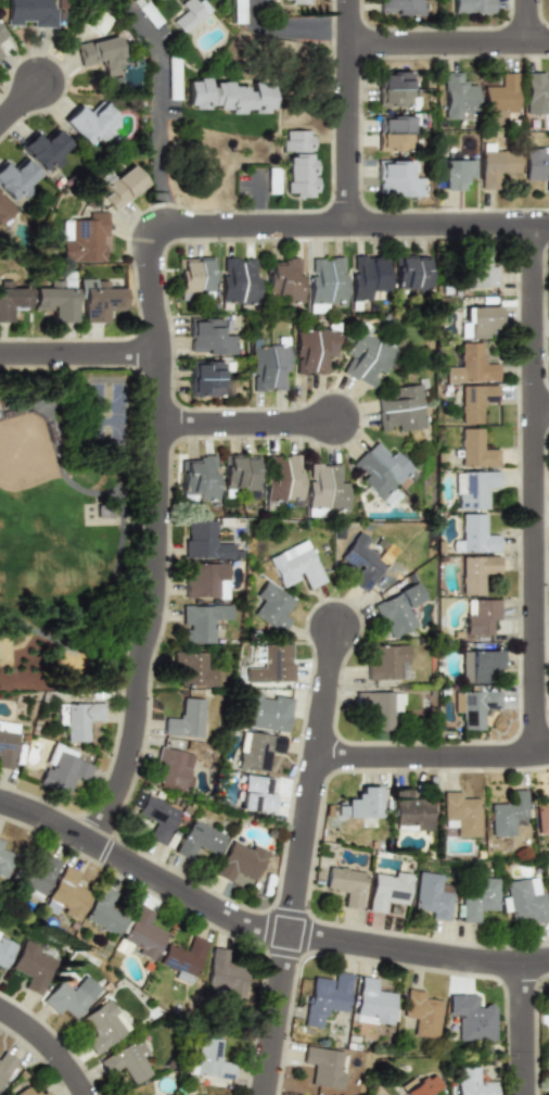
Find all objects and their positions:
building: (299, 2)
building: (470, 7)
building: (398, 8)
building: (239, 11)
building: (31, 13)
building: (150, 14)
building: (190, 14)
road: (522, 21)
building: (97, 22)
road: (286, 26)
building: (1, 34)
road: (446, 41)
building: (0, 50)
building: (0, 53)
building: (100, 54)
building: (173, 79)
building: (393, 89)
building: (534, 91)
building: (499, 93)
building: (232, 95)
building: (456, 95)
road: (18, 98)
road: (159, 109)
road: (345, 111)
building: (90, 122)
building: (394, 133)
building: (43, 149)
building: (298, 155)
building: (495, 163)
building: (536, 164)
building: (456, 173)
building: (15, 178)
building: (398, 178)
building: (272, 180)
building: (122, 187)
building: (3, 209)
road: (447, 223)
building: (86, 239)
building: (481, 270)
building: (411, 273)
building: (195, 275)
building: (366, 277)
building: (284, 278)
building: (239, 280)
building: (325, 281)
building: (55, 298)
building: (97, 299)
building: (12, 301)
building: (477, 320)
building: (209, 337)
building: (312, 349)
road: (77, 352)
building: (368, 357)
building: (473, 365)
building: (268, 367)
building: (210, 378)
building: (475, 402)
building: (404, 410)
road: (540, 410)
road: (246, 420)
road: (157, 444)
building: (476, 449)
building: (382, 471)
building: (240, 473)
building: (199, 477)
building: (283, 480)
building: (325, 488)
road: (532, 488)
building: (474, 489)
building: (101, 509)
park: (66, 524)
building: (475, 534)
building: (201, 539)
building: (360, 562)
building: (295, 565)
building: (476, 572)
building: (203, 580)
building: (271, 606)
building: (398, 609)
building: (481, 615)
building: (199, 622)
building: (387, 662)
building: (272, 664)
building: (478, 664)
building: (189, 668)
building: (474, 706)
building: (381, 707)
building: (265, 710)
building: (76, 718)
building: (183, 718)
building: (5, 743)
building: (257, 750)
road: (431, 755)
building: (173, 768)
building: (61, 769)
building: (258, 794)
building: (362, 804)
building: (410, 809)
building: (461, 813)
building: (508, 814)
building: (542, 814)
building: (153, 816)
building: (199, 839)
building: (1, 844)
building: (240, 859)
road: (297, 860)
building: (3, 863)
building: (34, 877)
building: (346, 884)
building: (387, 889)
building: (65, 895)
building: (433, 896)
building: (478, 898)
building: (525, 899)
building: (105, 914)
road: (260, 927)
building: (140, 934)
building: (5, 948)
building: (183, 957)
building: (33, 967)
building: (224, 973)
building: (69, 995)
building: (325, 997)
building: (373, 1003)
building: (421, 1011)
building: (472, 1019)
building: (103, 1025)
road: (520, 1029)
road: (49, 1044)
building: (209, 1059)
building: (132, 1061)
building: (5, 1065)
building: (324, 1066)
building: (472, 1082)
building: (422, 1085)
building: (30, 1092)
building: (548, 1092)

